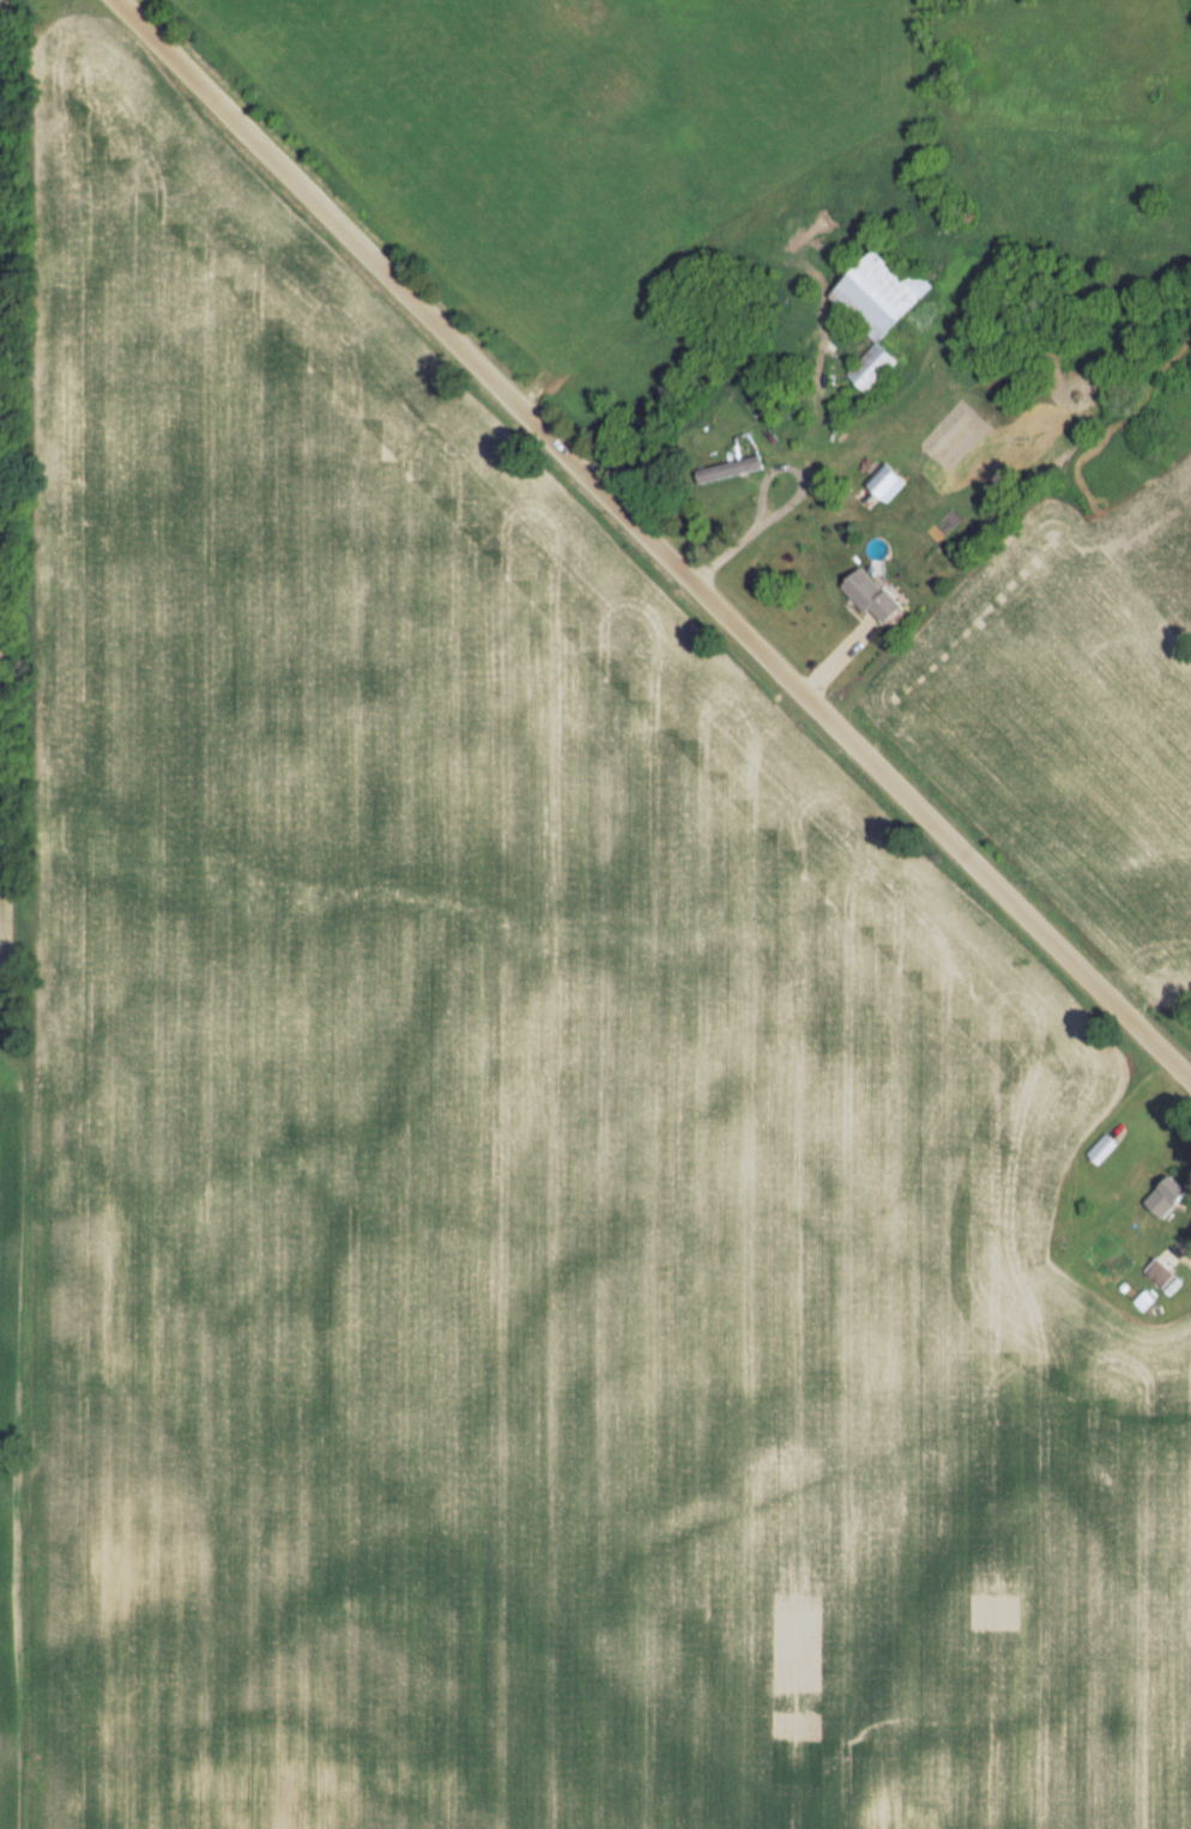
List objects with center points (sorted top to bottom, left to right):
building: (875, 295)
building: (866, 368)
building: (726, 471)
building: (882, 484)
road: (787, 505)
road: (652, 538)
building: (867, 596)
building: (1099, 1151)
building: (1162, 1198)
road: (1187, 1258)

